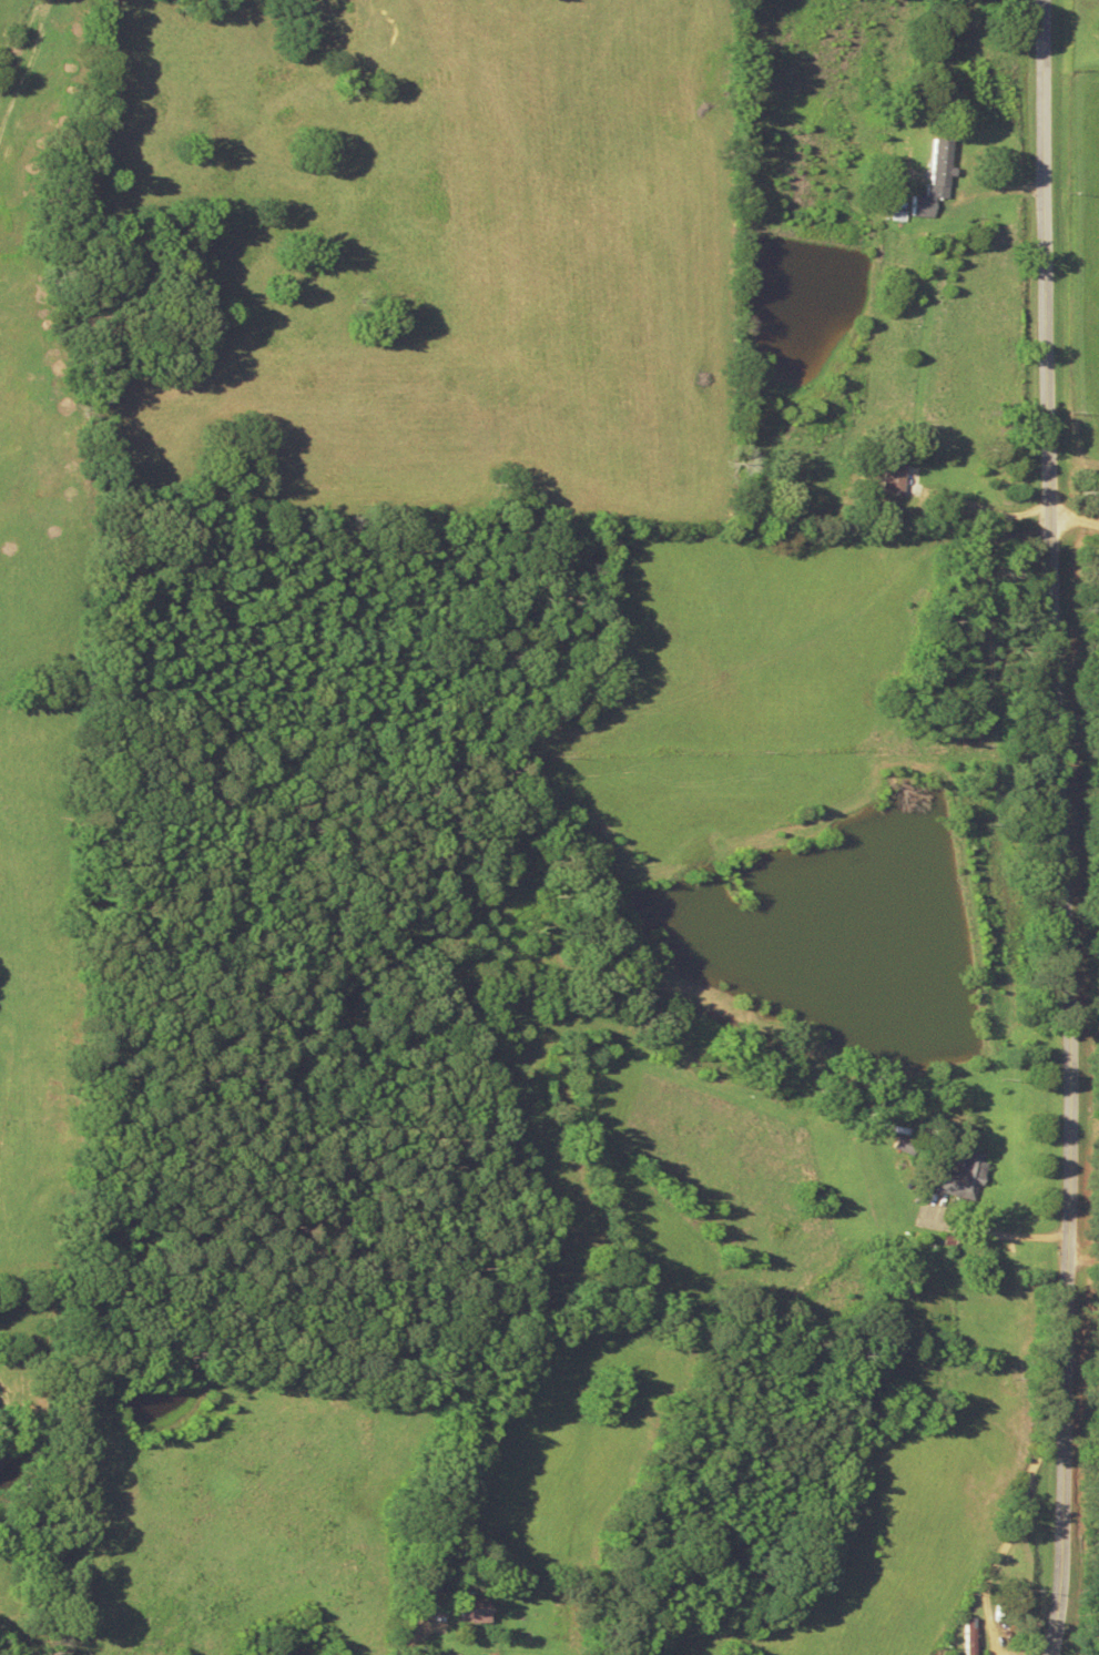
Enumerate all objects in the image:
building: (936, 177)
building: (894, 477)
road: (630, 812)
road: (1020, 827)
building: (960, 1175)
building: (479, 1608)
building: (971, 1636)

